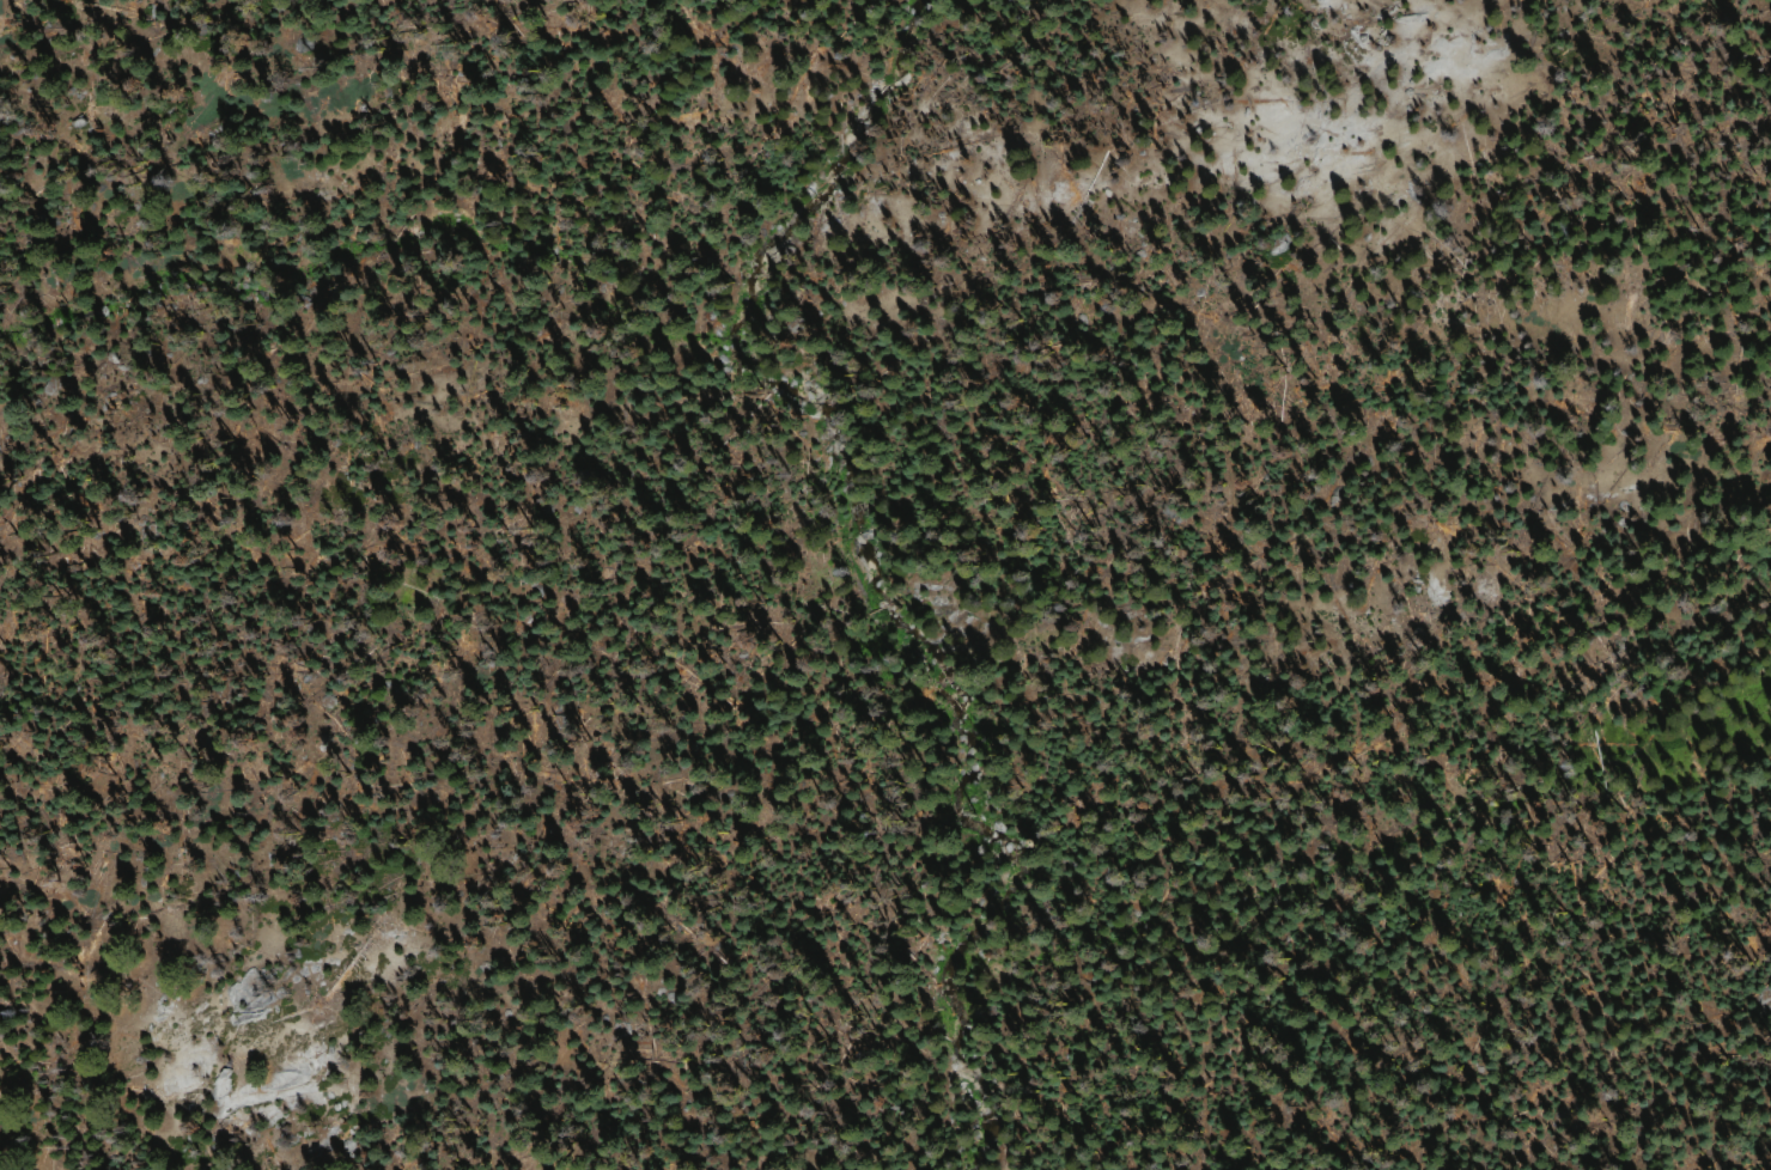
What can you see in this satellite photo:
road: (1270, 656)

